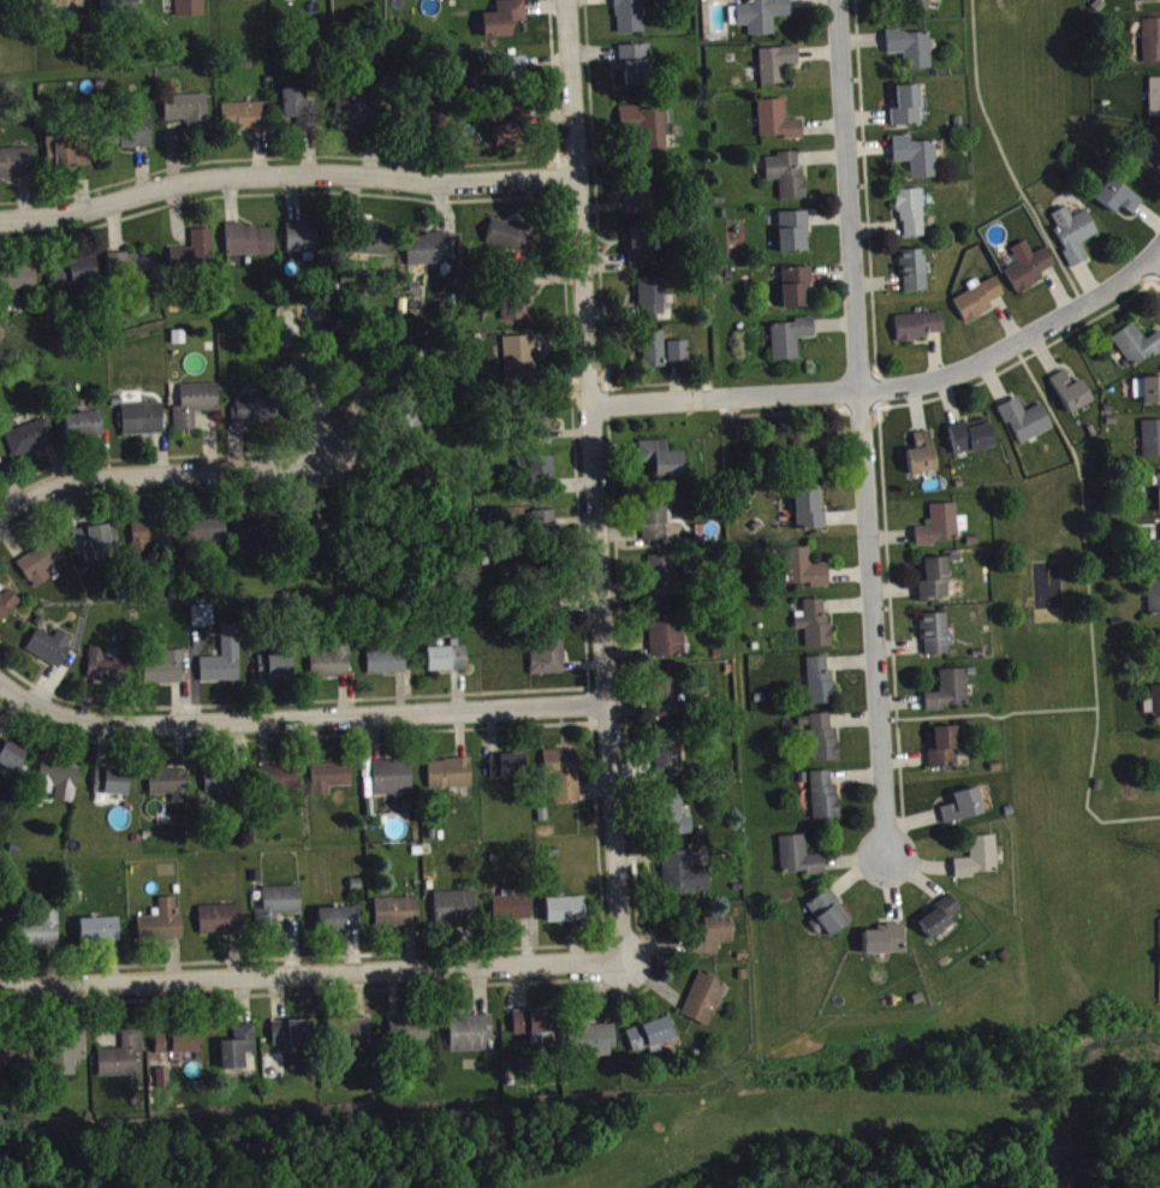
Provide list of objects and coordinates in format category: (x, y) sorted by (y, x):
building: (351, 0)
building: (238, 1)
building: (303, 1)
building: (13, 2)
building: (1149, 4)
building: (123, 7)
building: (921, 7)
building: (63, 10)
building: (190, 11)
building: (630, 19)
building: (762, 20)
building: (504, 25)
building: (1152, 47)
building: (911, 54)
building: (636, 70)
building: (777, 70)
building: (514, 77)
building: (1154, 103)
building: (908, 113)
building: (301, 114)
building: (189, 118)
building: (359, 120)
building: (432, 121)
building: (244, 124)
building: (778, 127)
building: (512, 132)
building: (650, 133)
building: (130, 139)
building: (1149, 158)
building: (67, 159)
building: (917, 164)
building: (17, 170)
road: (286, 178)
building: (787, 180)
building: (640, 197)
building: (1119, 203)
building: (910, 220)
building: (793, 238)
building: (1073, 239)
building: (304, 243)
building: (512, 243)
building: (376, 245)
building: (250, 246)
road: (1158, 251)
building: (642, 253)
building: (196, 256)
building: (429, 256)
road: (1158, 257)
building: (1030, 273)
building: (133, 275)
building: (914, 277)
building: (77, 281)
building: (17, 286)
building: (797, 293)
building: (652, 303)
building: (980, 304)
building: (517, 307)
building: (918, 333)
road: (1013, 341)
building: (791, 345)
building: (1137, 351)
building: (654, 355)
building: (678, 357)
building: (520, 363)
building: (355, 375)
building: (1148, 397)
road: (725, 398)
building: (1071, 399)
building: (196, 411)
building: (255, 417)
building: (143, 426)
road: (858, 427)
building: (1025, 427)
building: (84, 430)
building: (541, 434)
building: (30, 444)
building: (971, 444)
building: (1152, 445)
building: (922, 461)
building: (662, 464)
building: (811, 465)
road: (167, 476)
building: (545, 482)
road: (597, 482)
building: (1159, 497)
building: (810, 516)
building: (655, 525)
building: (545, 531)
building: (941, 531)
building: (206, 537)
building: (251, 539)
building: (313, 540)
building: (150, 542)
building: (94, 550)
building: (1158, 554)
building: (42, 570)
building: (805, 575)
building: (664, 583)
building: (934, 587)
building: (1154, 605)
road: (1088, 607)
building: (7, 610)
building: (203, 622)
building: (815, 629)
building: (935, 641)
building: (667, 642)
building: (50, 651)
building: (549, 660)
building: (224, 665)
building: (447, 665)
building: (332, 669)
building: (387, 669)
building: (106, 673)
building: (275, 673)
building: (166, 676)
building: (820, 687)
building: (950, 697)
building: (666, 703)
building: (1156, 711)
road: (986, 713)
road: (298, 720)
building: (823, 744)
building: (944, 754)
building: (670, 759)
building: (11, 761)
building: (508, 773)
building: (451, 780)
building: (564, 780)
building: (280, 784)
building: (331, 784)
building: (393, 784)
building: (60, 786)
building: (112, 789)
building: (225, 789)
building: (172, 791)
building: (823, 802)
building: (963, 813)
building: (677, 822)
building: (799, 863)
building: (978, 865)
building: (685, 880)
building: (281, 909)
building: (513, 911)
building: (457, 915)
building: (566, 916)
building: (398, 920)
building: (829, 920)
building: (940, 922)
building: (340, 926)
building: (221, 927)
building: (162, 928)
building: (40, 937)
building: (101, 937)
building: (1, 938)
building: (710, 942)
building: (885, 948)
road: (311, 978)
building: (703, 1006)
building: (534, 1028)
building: (471, 1039)
building: (288, 1040)
building: (357, 1040)
building: (411, 1040)
building: (652, 1043)
building: (597, 1047)
building: (185, 1050)
building: (238, 1058)
building: (14, 1061)
building: (69, 1061)
building: (123, 1064)
building: (275, 1070)
park: (649, 1140)

